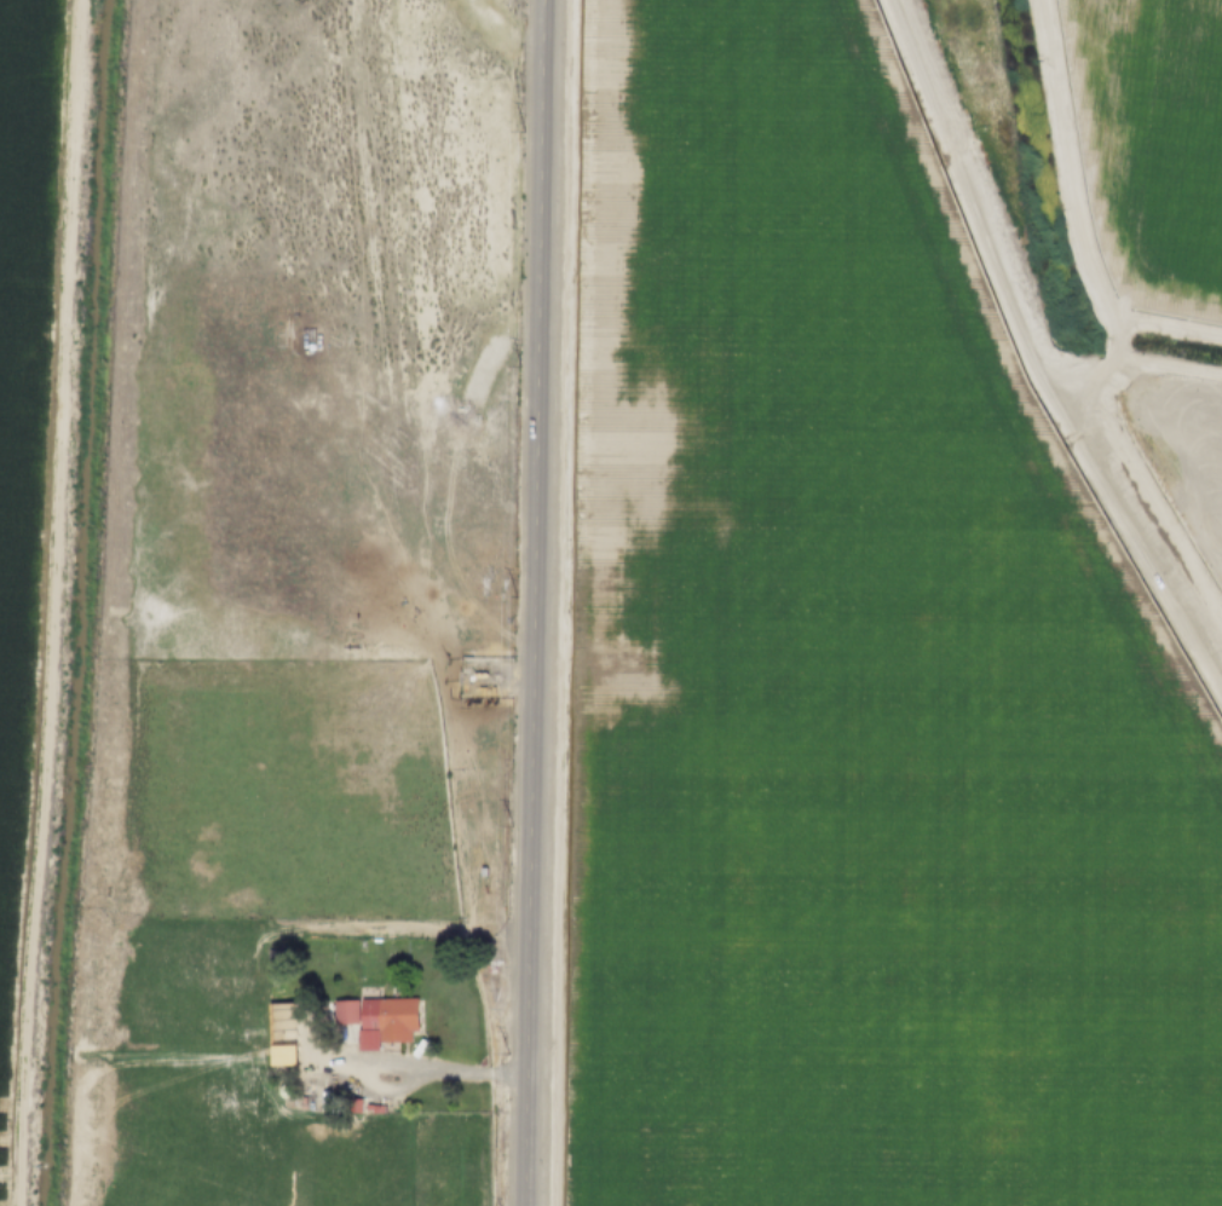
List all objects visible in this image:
road: (1070, 167)
road: (973, 218)
road: (24, 321)
road: (1117, 331)
road: (1099, 475)
road: (35, 602)
road: (538, 602)
building: (377, 1017)
road: (392, 1062)
building: (282, 1089)
silo: (282, 1089)
building: (353, 1104)
building: (376, 1108)

